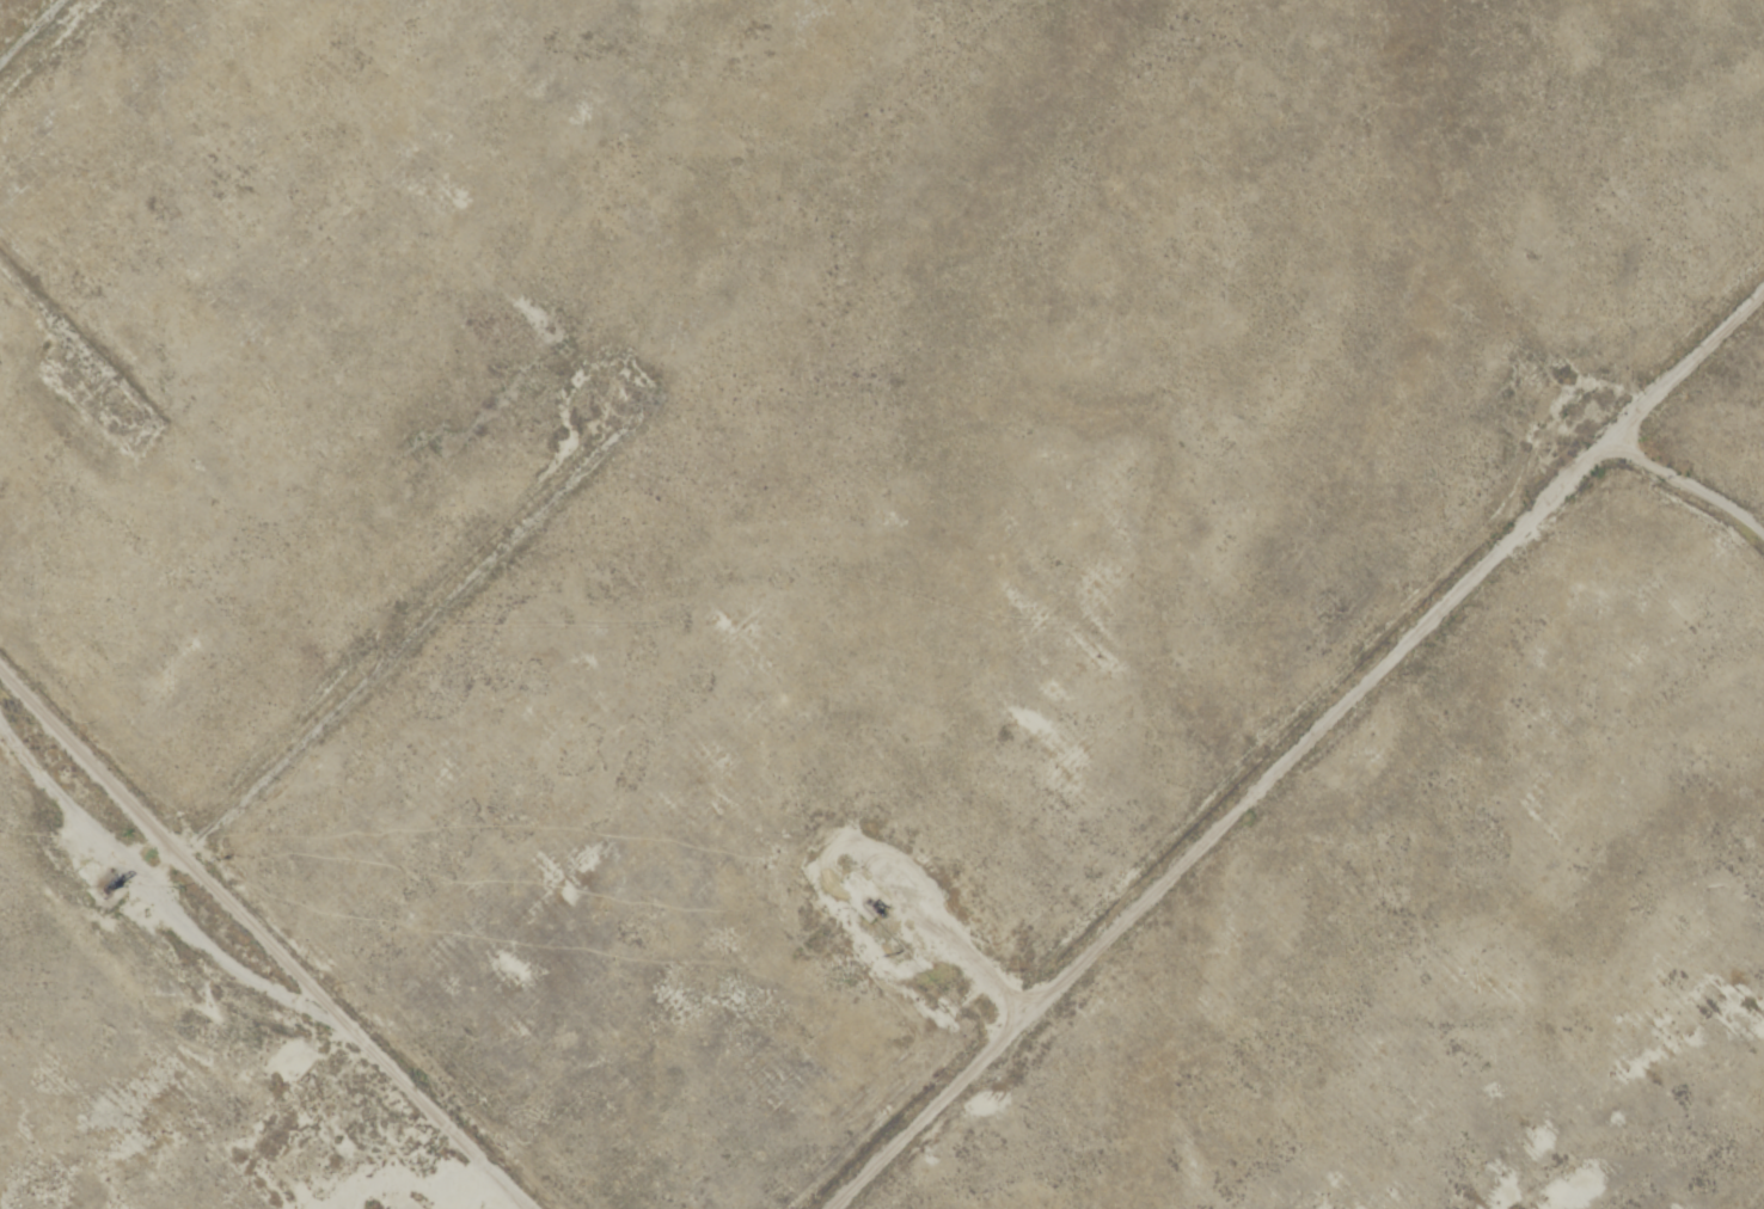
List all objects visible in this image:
road: (29, 29)
road: (1691, 361)
road: (308, 728)
road: (1279, 753)
road: (349, 1035)

